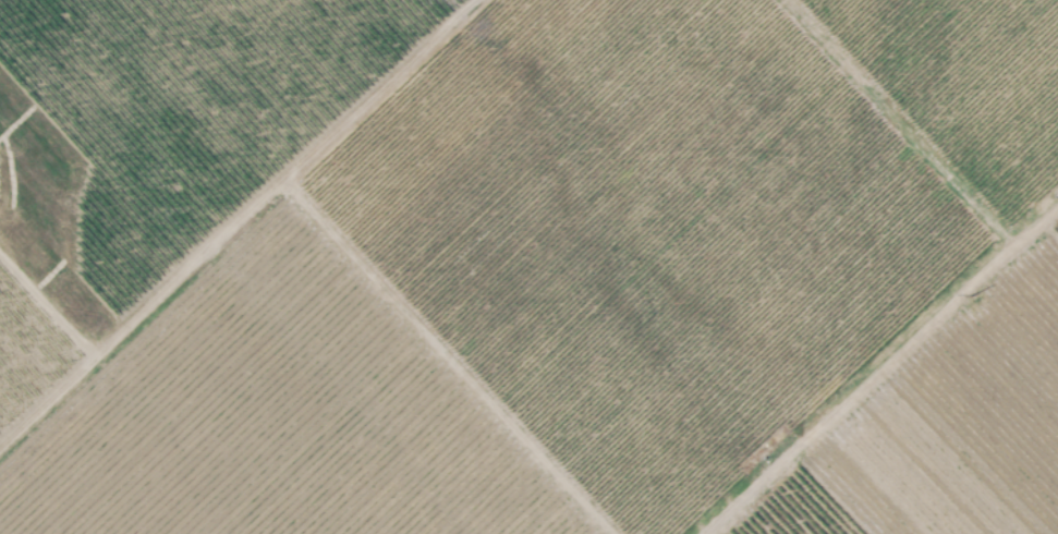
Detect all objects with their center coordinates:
building: (1055, 195)

